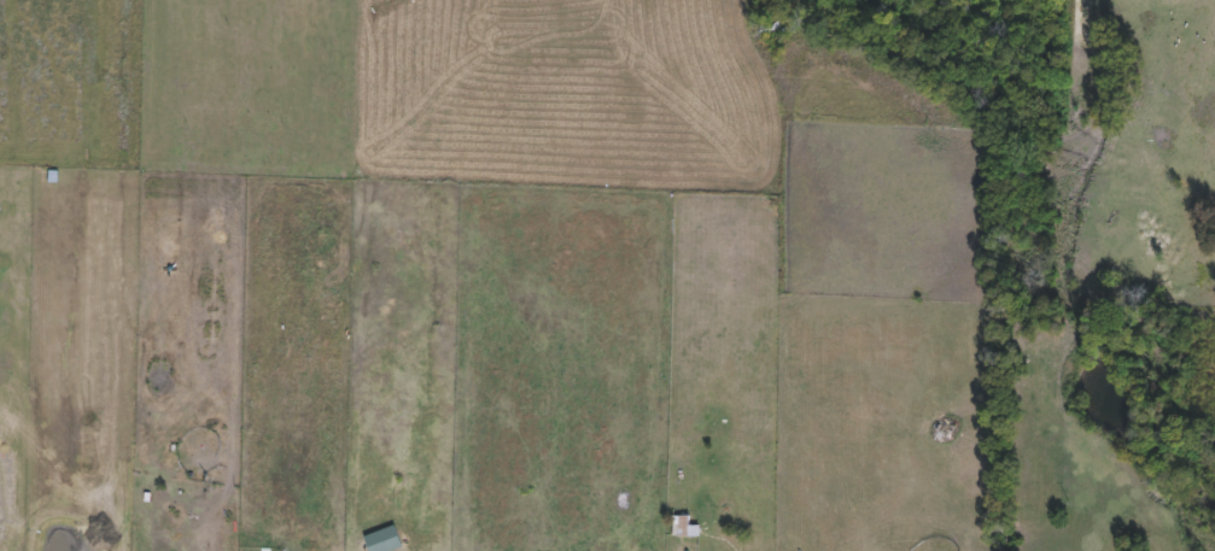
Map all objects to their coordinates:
building: (221, 435)
building: (678, 526)
building: (420, 541)

